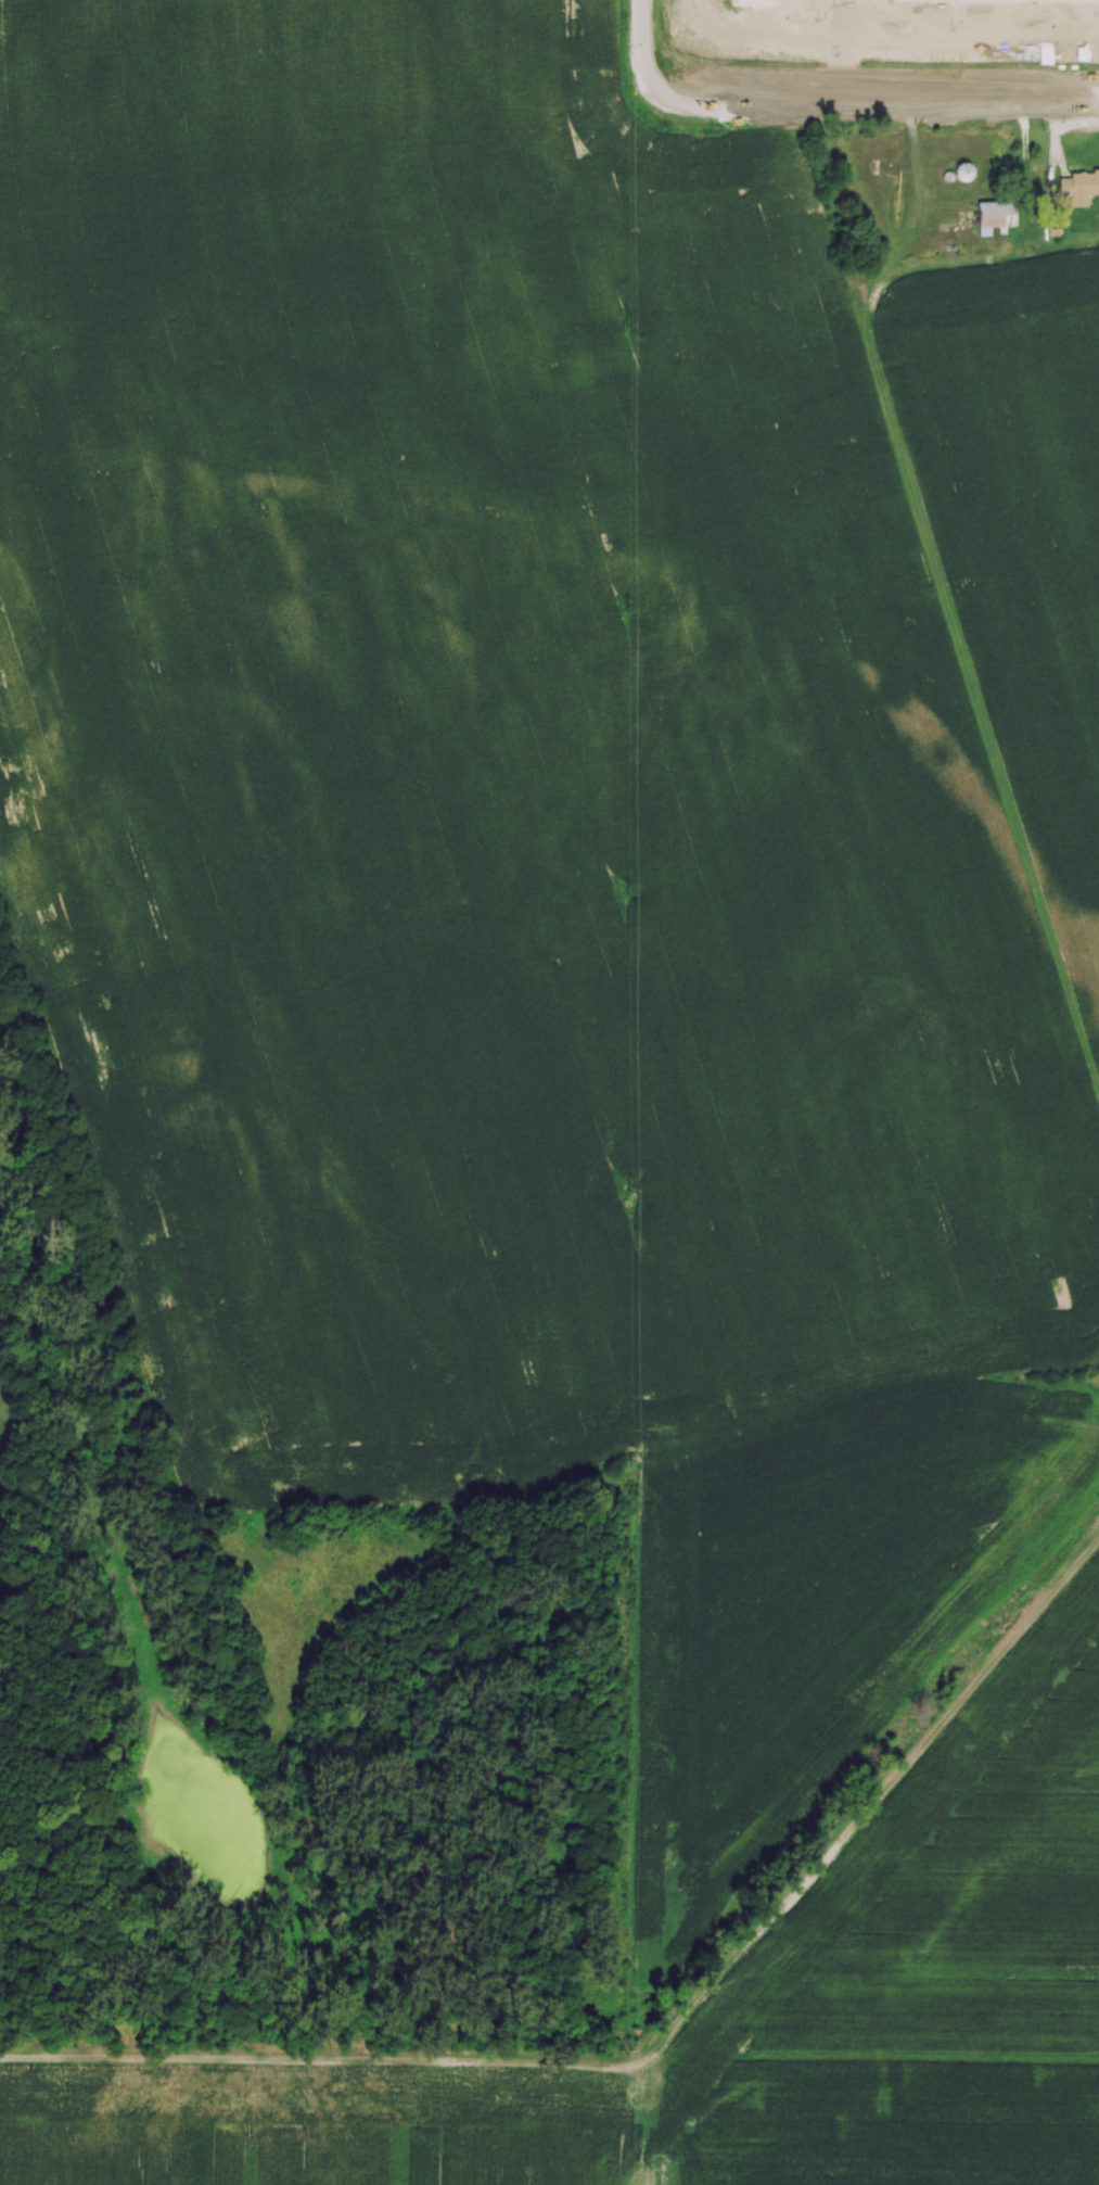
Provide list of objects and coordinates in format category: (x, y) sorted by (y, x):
road: (644, 46)
road: (879, 106)
crop: (561, 829)
crop: (731, 2017)

